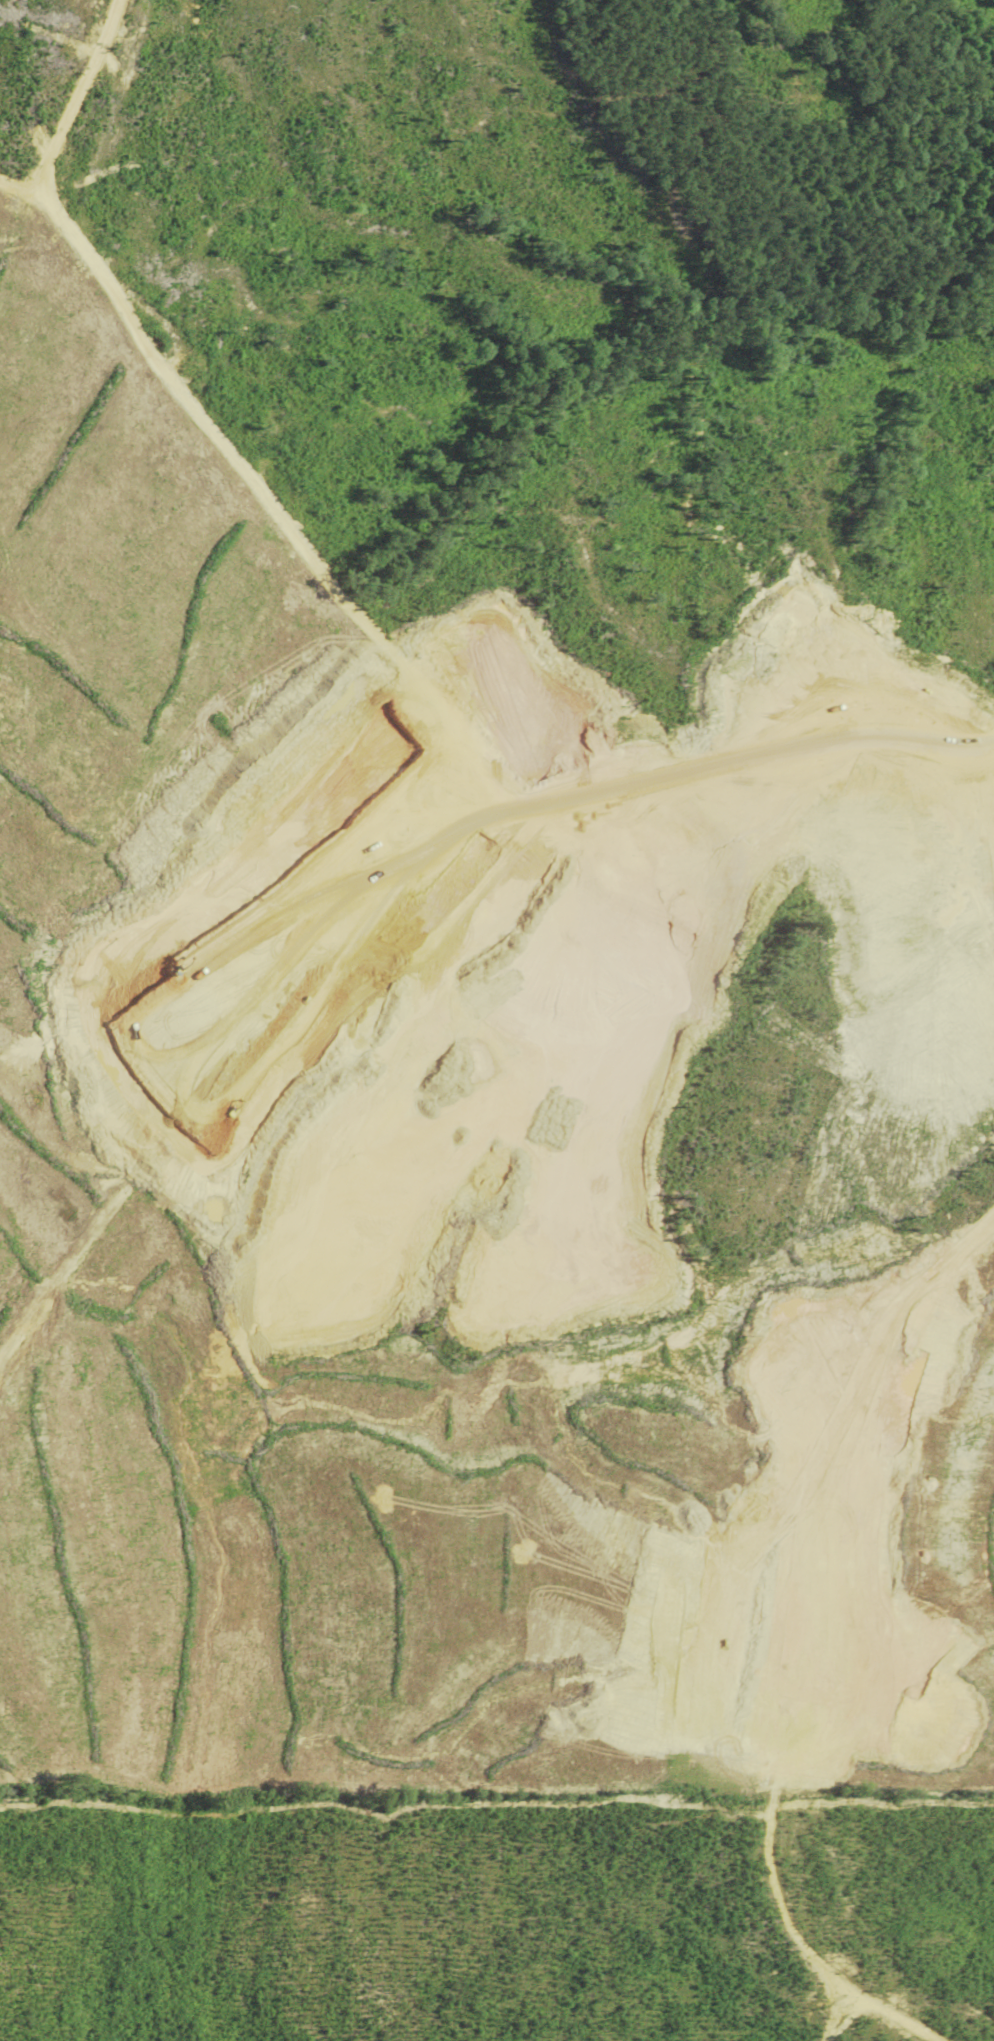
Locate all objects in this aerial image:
road: (368, 622)
road: (823, 1655)
road: (843, 2018)

